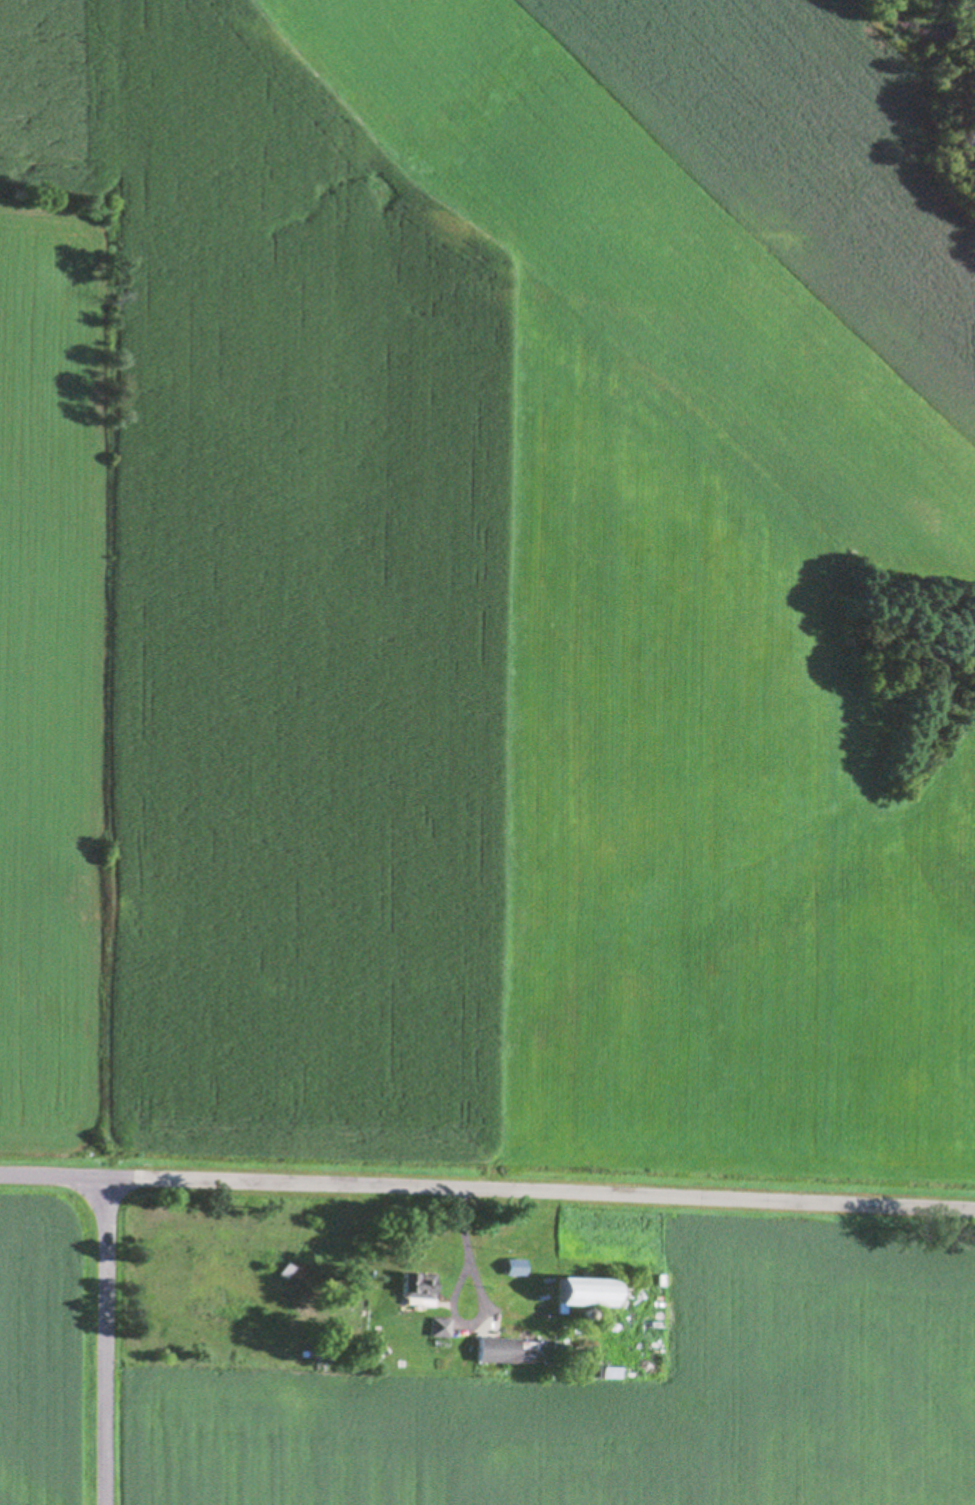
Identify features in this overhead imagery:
road: (54, 1208)
road: (542, 1220)
building: (517, 1266)
building: (420, 1284)
building: (590, 1291)
building: (441, 1326)
building: (500, 1348)
road: (109, 1357)

